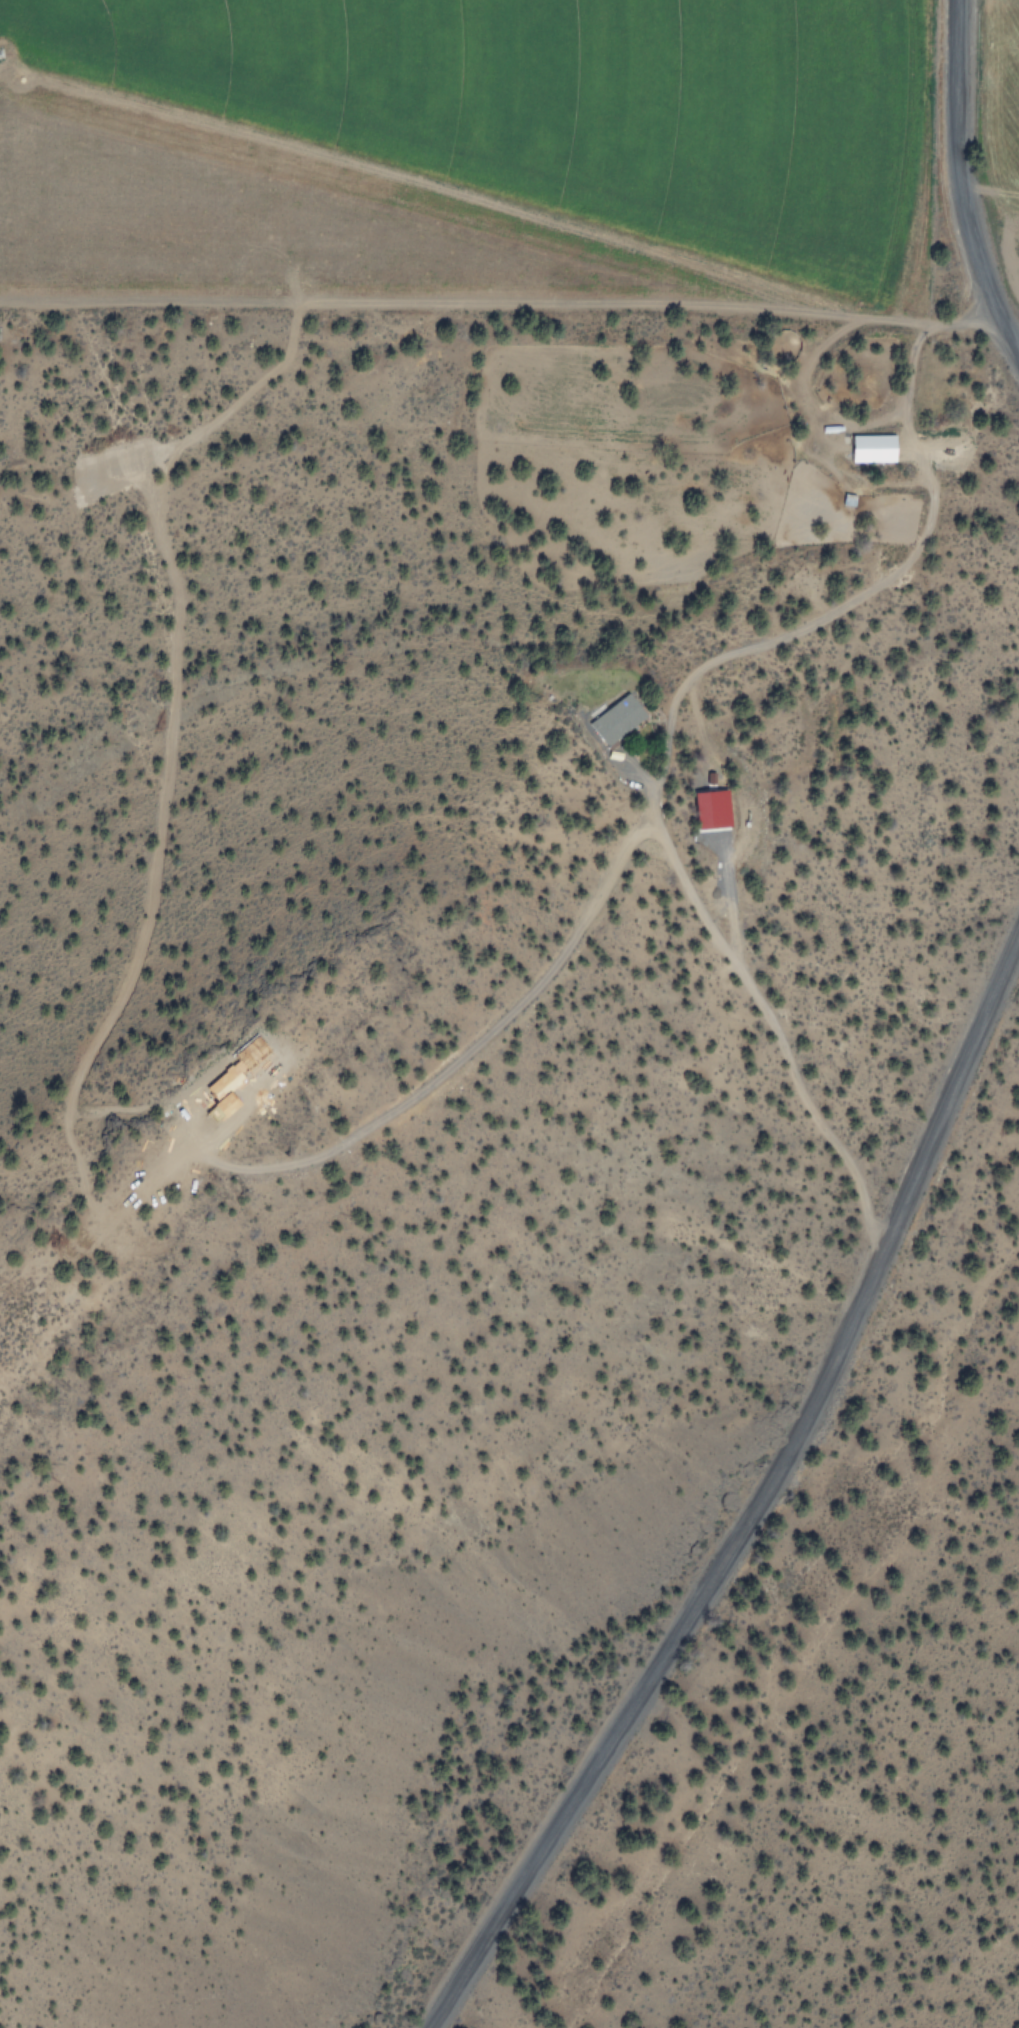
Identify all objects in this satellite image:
crop: (457, 154)
road: (958, 189)
building: (869, 447)
building: (613, 718)
building: (708, 808)
road: (758, 1494)

